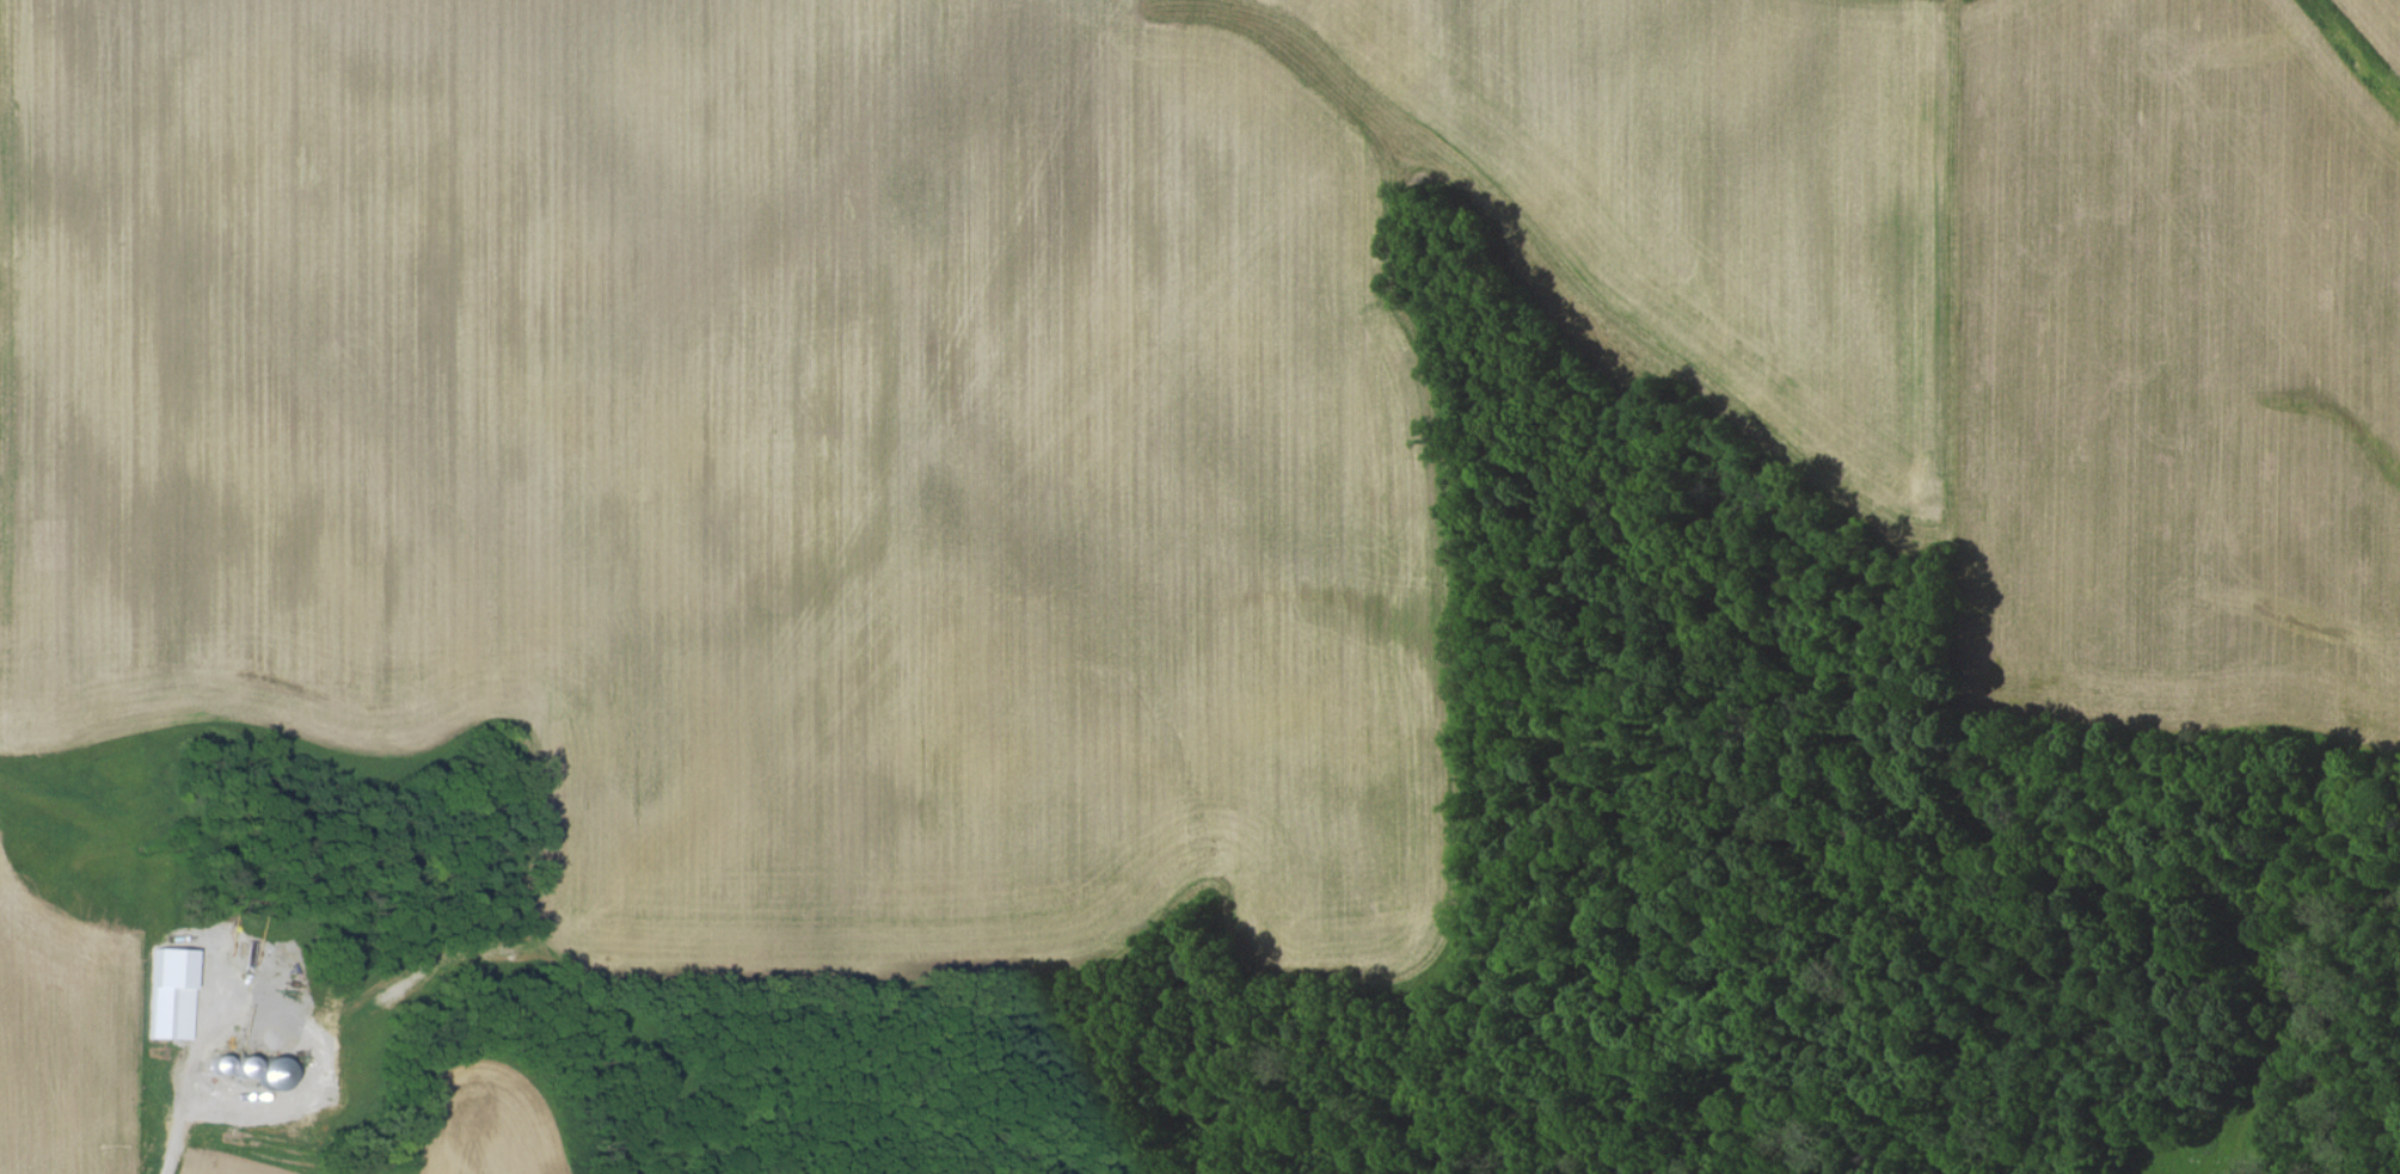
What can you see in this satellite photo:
building: (174, 992)
road: (302, 1038)
road: (176, 1141)

